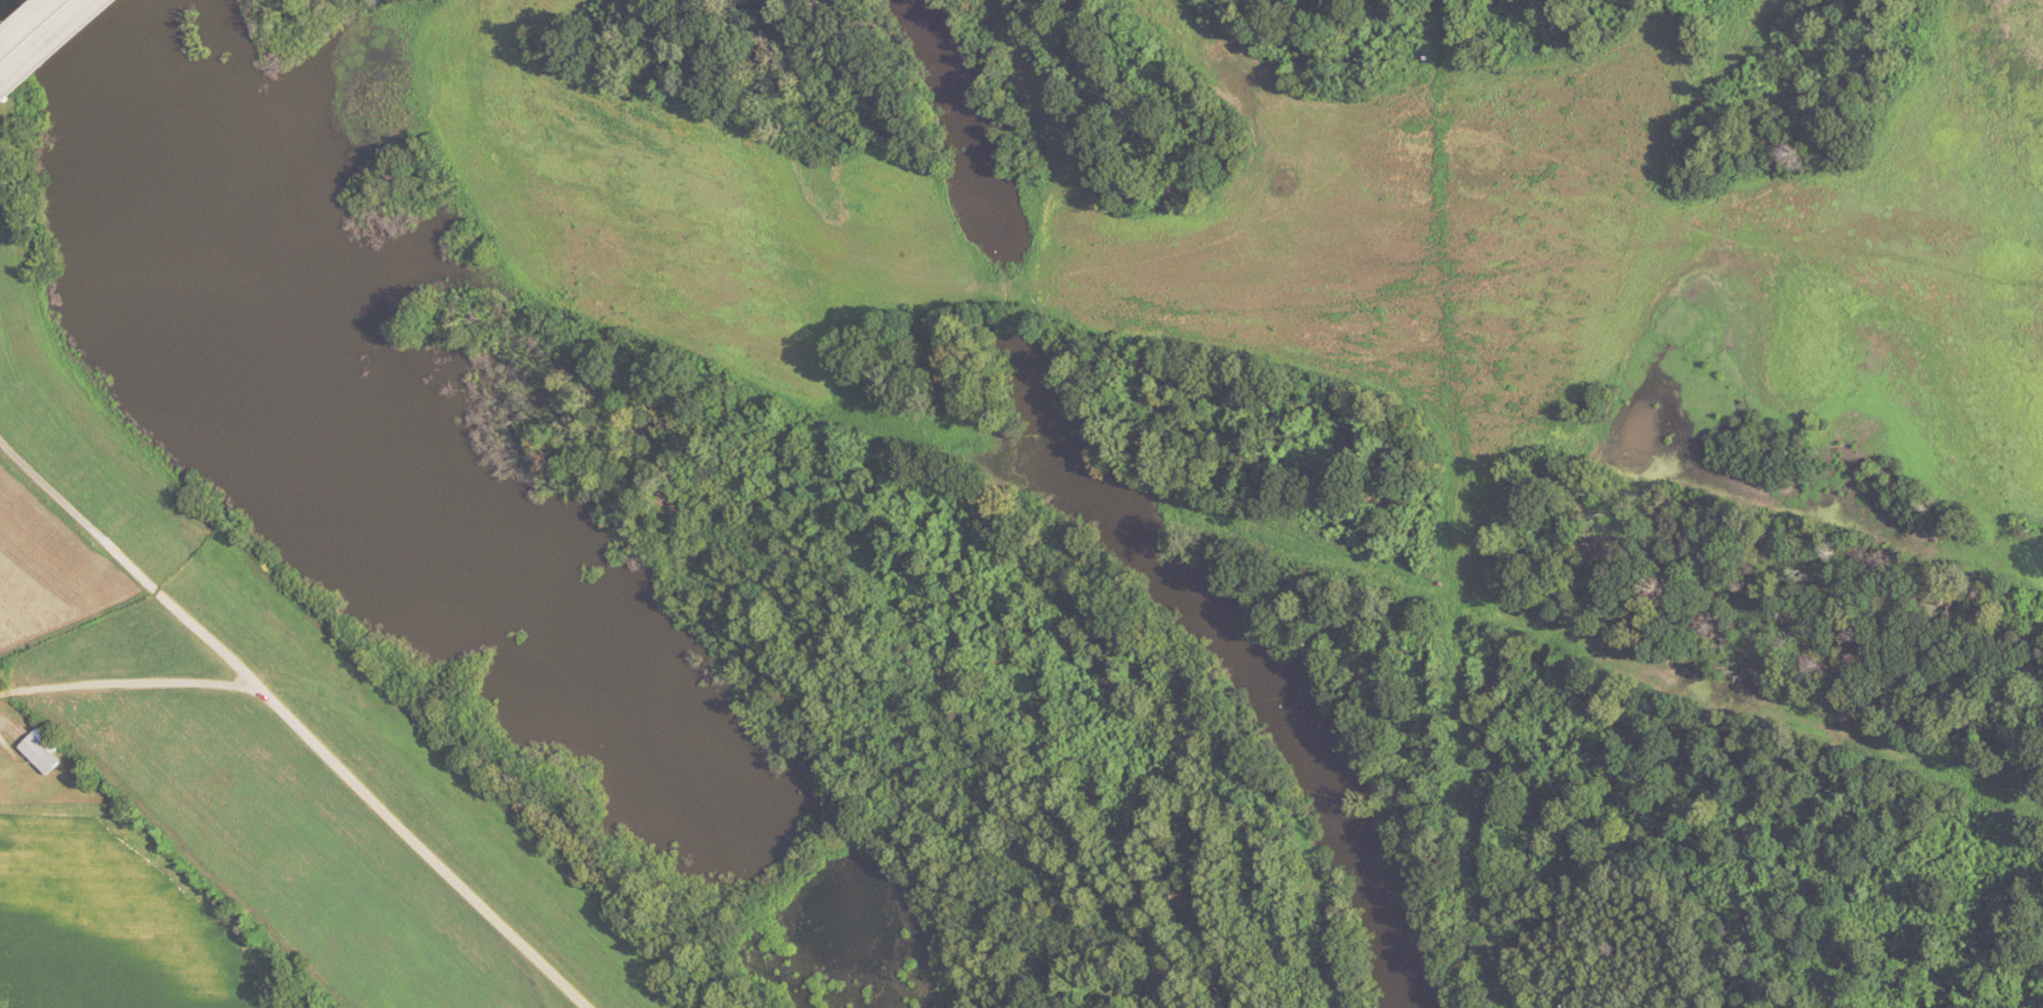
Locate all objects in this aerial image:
road: (29, 25)
building: (40, 32)
road: (50, 43)
road: (126, 689)
road: (296, 723)
building: (36, 756)
road: (306, 839)

